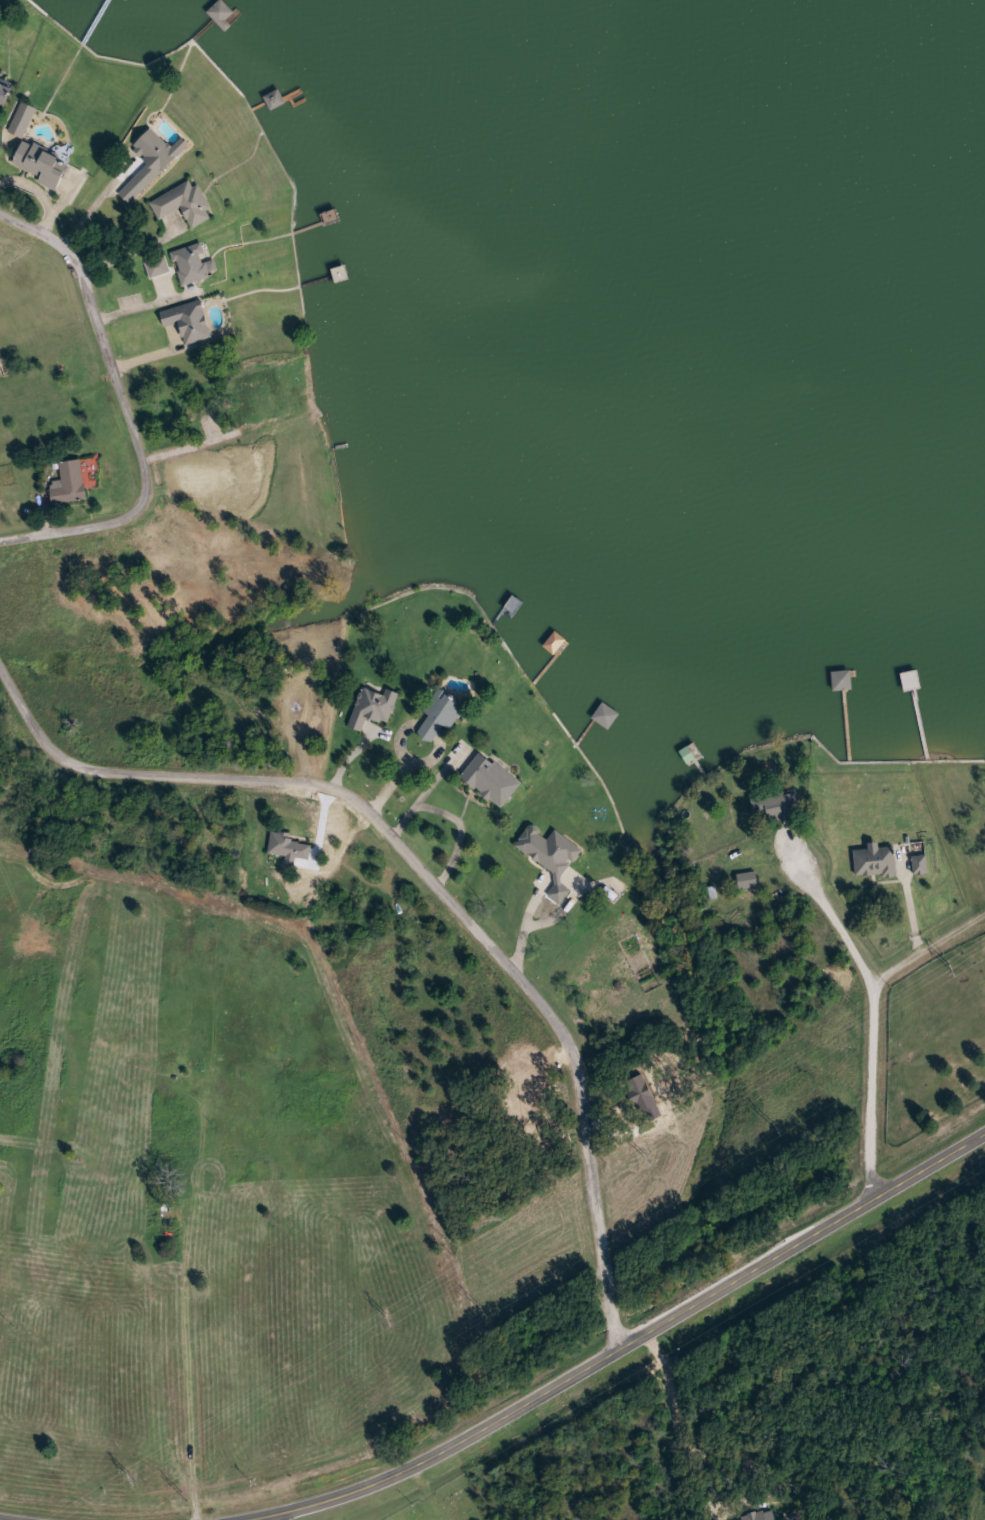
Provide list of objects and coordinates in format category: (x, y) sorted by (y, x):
building: (222, 15)
building: (4, 94)
building: (22, 119)
building: (41, 163)
building: (149, 163)
road: (41, 193)
road: (99, 202)
building: (184, 203)
road: (131, 251)
building: (192, 264)
road: (146, 305)
road: (126, 410)
building: (70, 483)
road: (46, 515)
building: (373, 706)
building: (441, 713)
road: (348, 757)
building: (492, 779)
road: (390, 785)
road: (423, 794)
building: (778, 806)
road: (321, 821)
road: (461, 833)
building: (289, 846)
building: (552, 856)
building: (876, 860)
building: (921, 865)
road: (428, 875)
building: (749, 880)
road: (560, 914)
road: (525, 922)
road: (930, 948)
road: (875, 1003)
building: (16, 1067)
road: (187, 1347)
road: (596, 1353)
road: (429, 1494)
road: (272, 1513)
road: (29, 1516)
road: (194, 1519)

